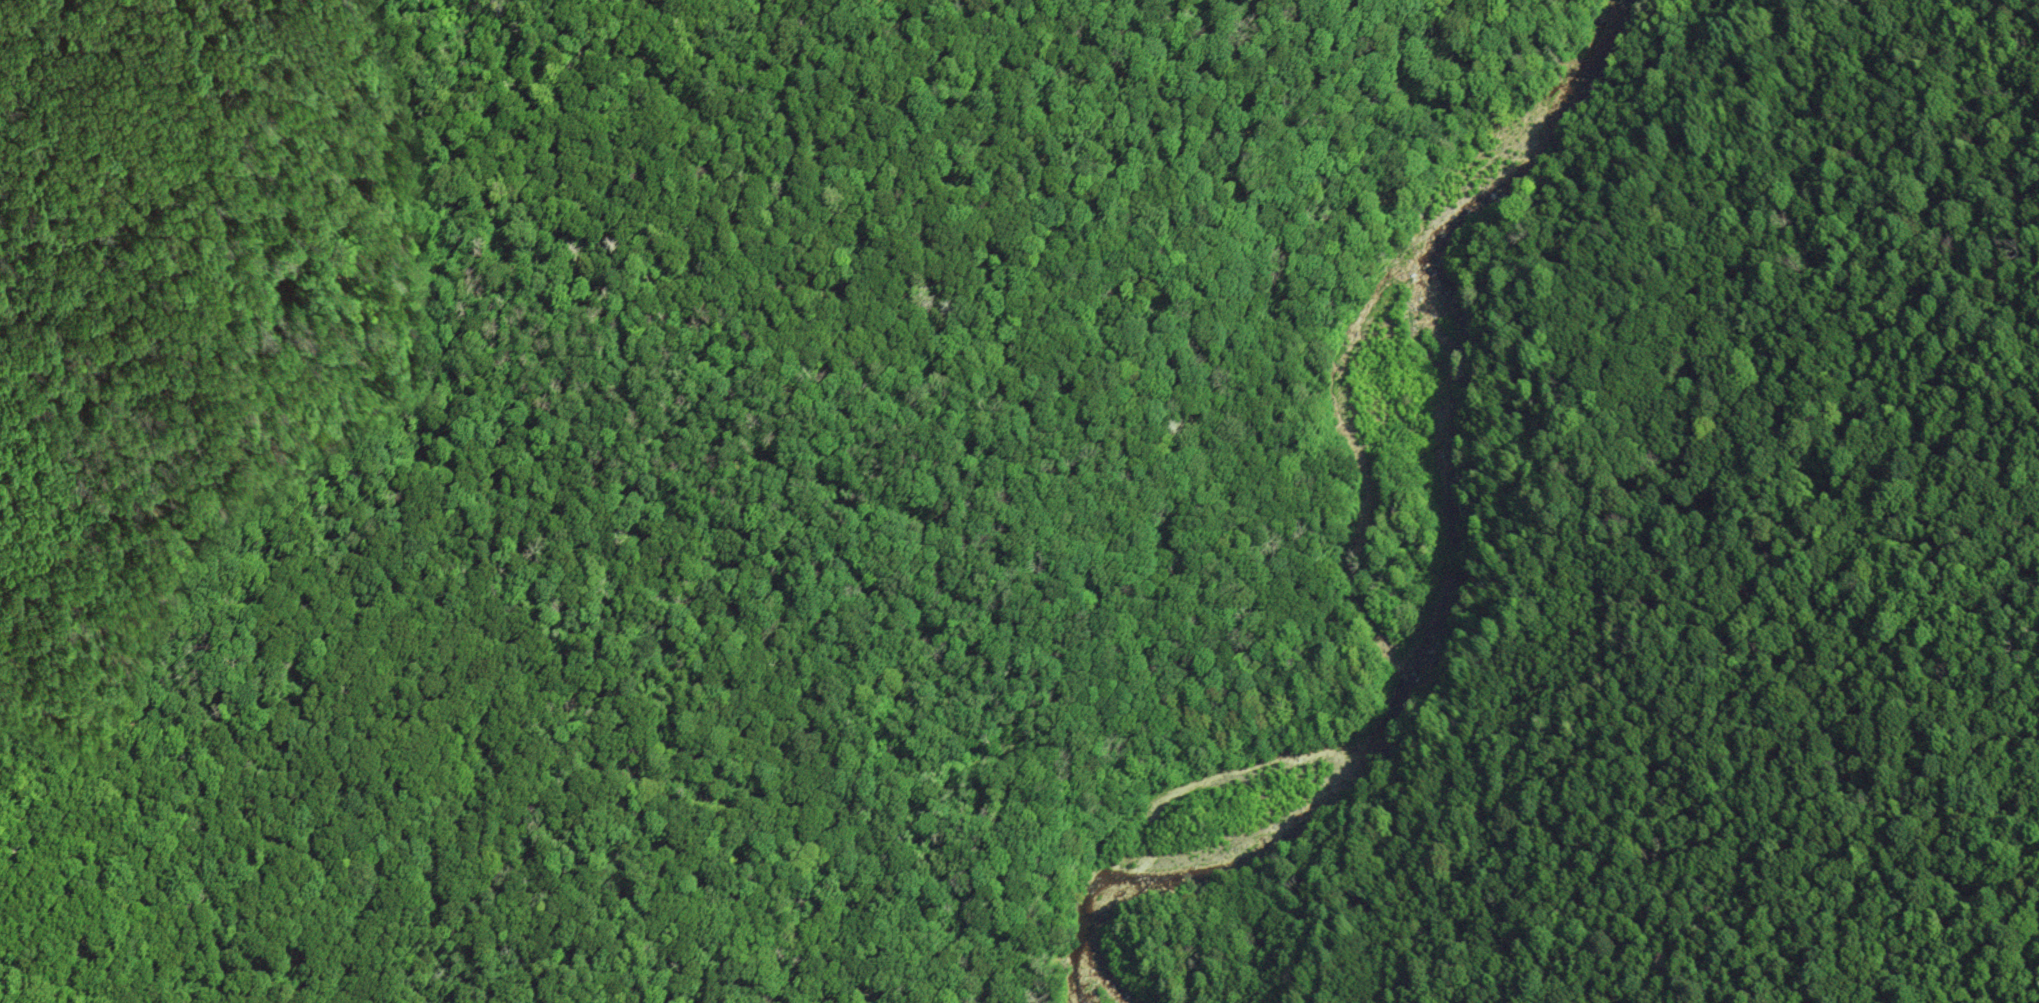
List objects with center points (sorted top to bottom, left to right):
road: (1647, 43)
road: (1717, 198)
road: (1572, 481)
road: (549, 493)
river: (1436, 582)

